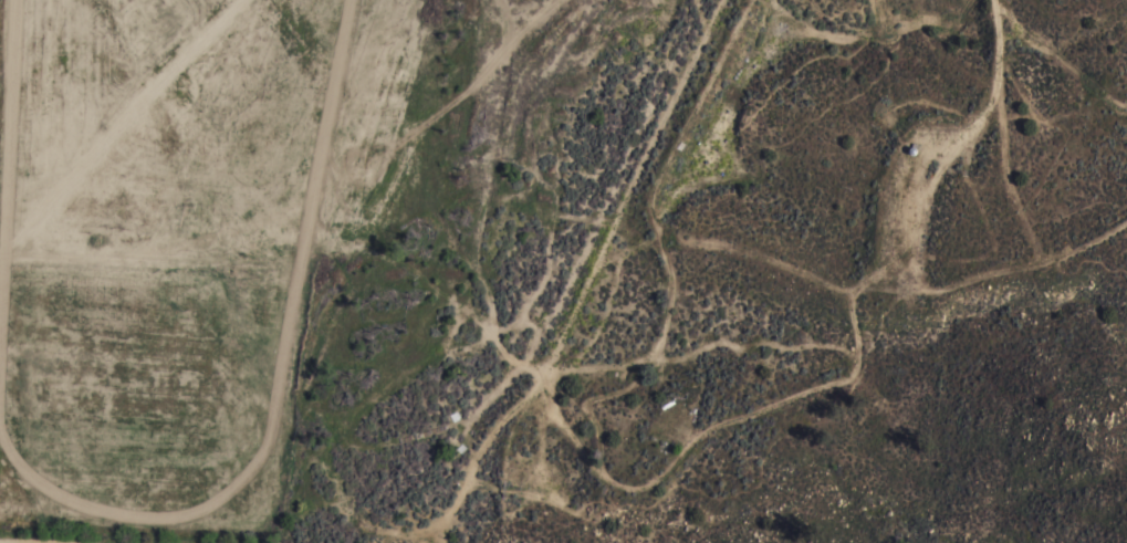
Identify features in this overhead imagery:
building: (265, 274)

